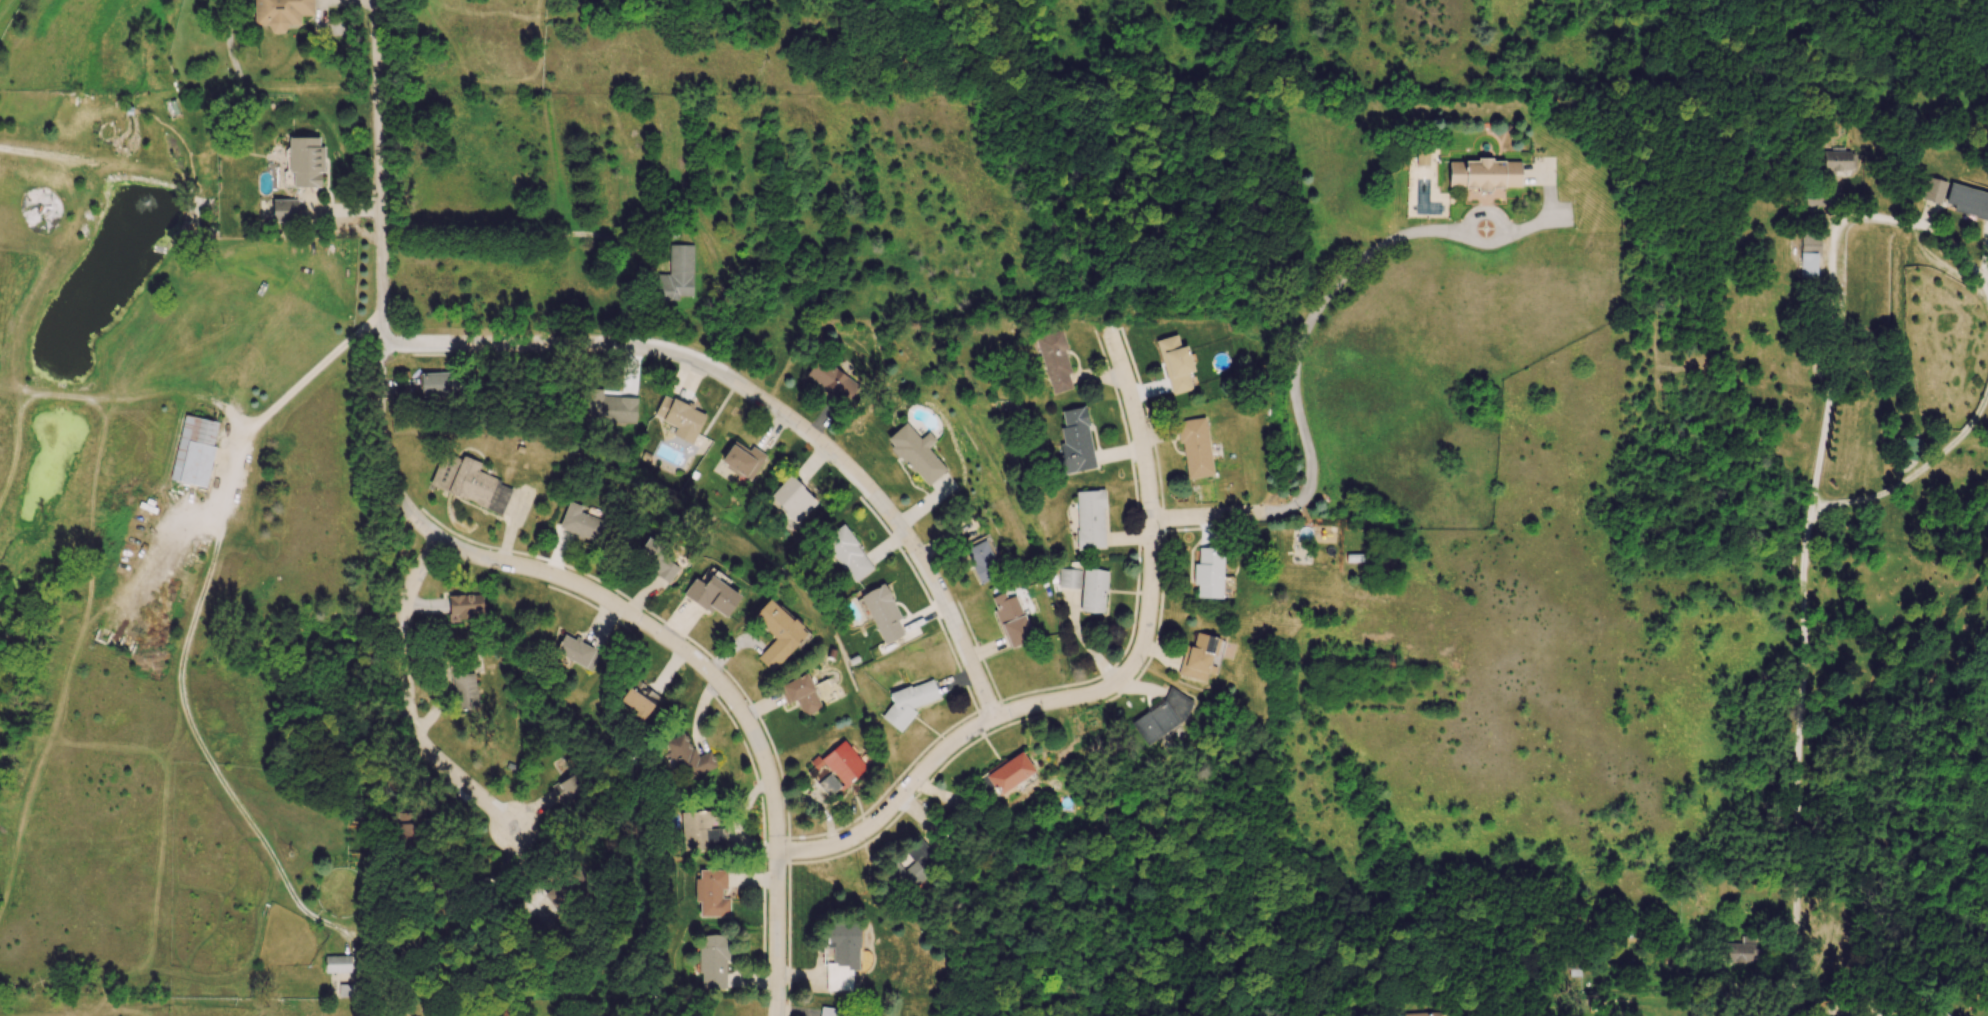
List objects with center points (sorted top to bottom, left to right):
building: (281, 13)
building: (306, 161)
building: (1839, 163)
building: (1483, 174)
building: (1933, 190)
building: (1967, 201)
building: (284, 211)
building: (1809, 256)
road: (1834, 267)
building: (677, 274)
road: (381, 279)
road: (1314, 311)
road: (508, 343)
building: (1055, 362)
building: (1175, 364)
building: (831, 381)
building: (439, 384)
building: (610, 408)
building: (680, 418)
building: (1075, 442)
building: (1195, 448)
building: (1910, 448)
building: (194, 451)
building: (916, 454)
building: (742, 459)
road: (1916, 470)
road: (863, 482)
building: (469, 483)
road: (1148, 485)
building: (793, 499)
road: (1282, 507)
road: (1210, 515)
building: (1090, 519)
building: (580, 522)
building: (848, 554)
building: (982, 560)
building: (657, 561)
building: (1208, 573)
building: (1067, 578)
building: (1093, 590)
building: (711, 596)
building: (465, 607)
road: (196, 613)
building: (882, 613)
building: (1011, 619)
building: (777, 633)
building: (577, 652)
building: (1201, 657)
building: (465, 690)
road: (728, 694)
building: (801, 694)
road: (406, 699)
building: (639, 699)
building: (910, 702)
building: (1161, 716)
road: (955, 742)
road: (1797, 755)
building: (688, 758)
building: (842, 762)
building: (1010, 773)
building: (829, 784)
building: (568, 789)
park: (1382, 815)
building: (700, 832)
building: (908, 868)
building: (711, 893)
building: (843, 946)
building: (1740, 952)
building: (712, 962)
building: (337, 964)
building: (830, 1011)
road: (1857, 1013)
building: (1424, 1014)
road: (1793, 1014)
road: (1863, 1014)

